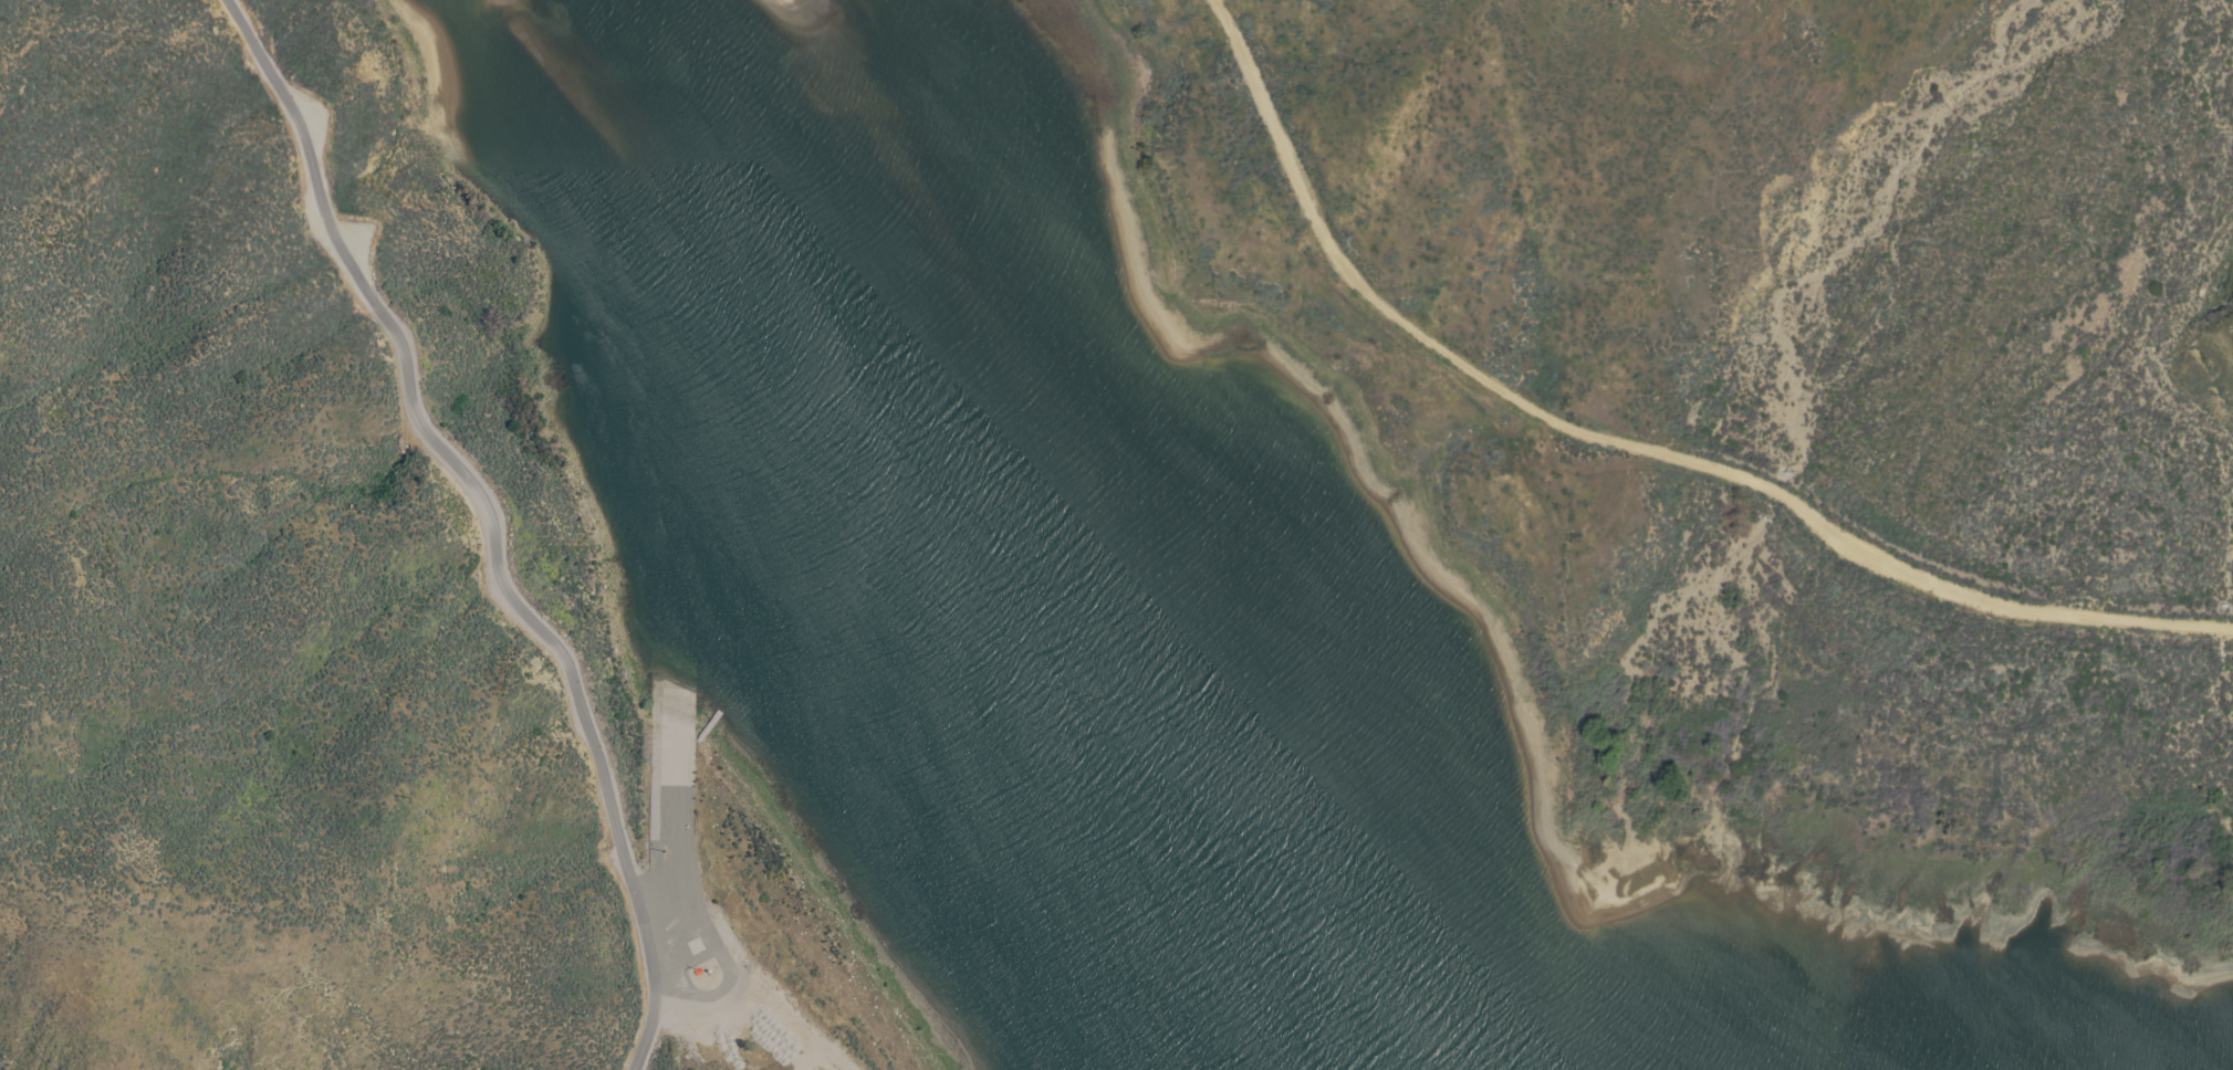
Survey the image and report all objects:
road: (1626, 445)
road: (500, 514)

